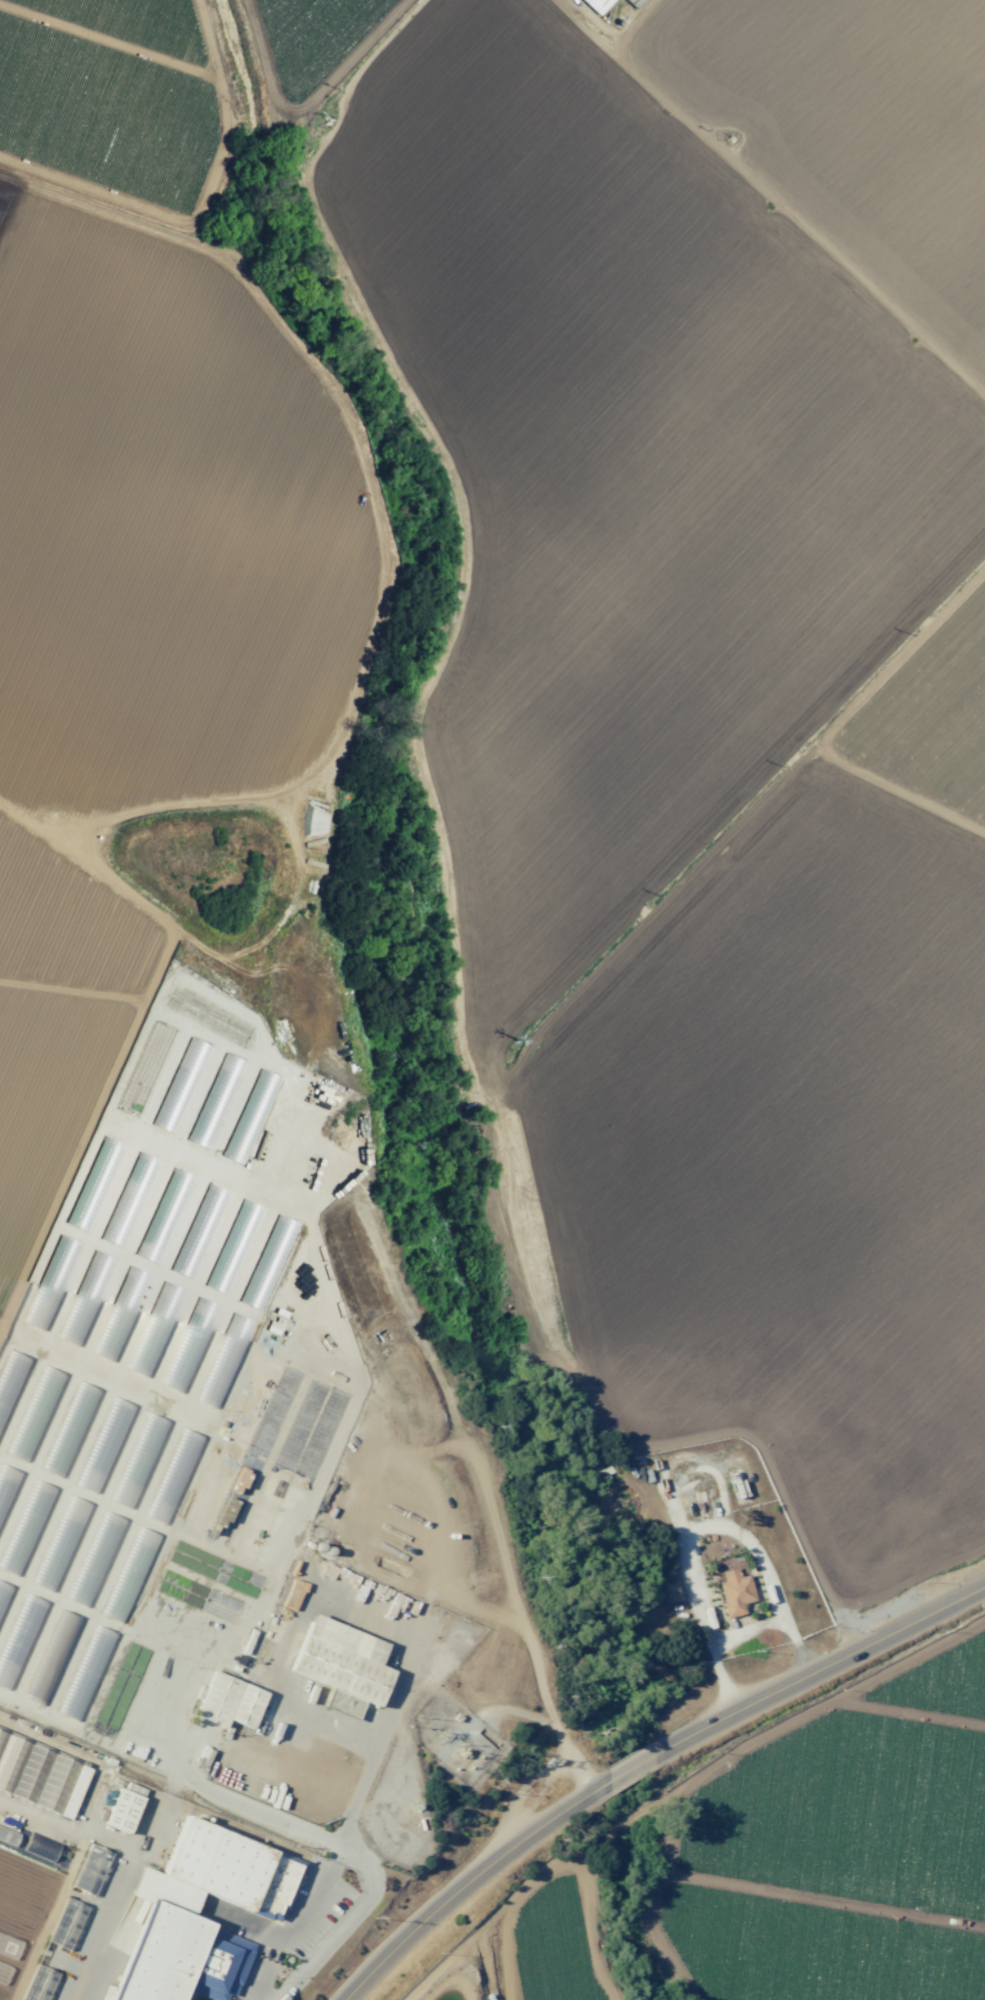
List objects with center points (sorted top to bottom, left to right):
building: (638, 2)
building: (600, 6)
crop: (550, 636)
building: (181, 1084)
building: (211, 1111)
building: (251, 1116)
building: (107, 1152)
building: (136, 1184)
building: (211, 1397)
road: (701, 1525)
building: (734, 1591)
building: (669, 1592)
road: (294, 1627)
road: (748, 1631)
building: (58, 1634)
building: (341, 1659)
building: (82, 1678)
building: (229, 1701)
building: (348, 1705)
road: (372, 1761)
road: (646, 1765)
building: (53, 1786)
building: (119, 1808)
road: (290, 1825)
building: (8, 1836)
building: (41, 1846)
crop: (844, 1850)
building: (234, 1867)
building: (90, 1869)
crop: (27, 1893)
building: (66, 1923)
crop: (540, 1952)
crop: (114, 1999)

